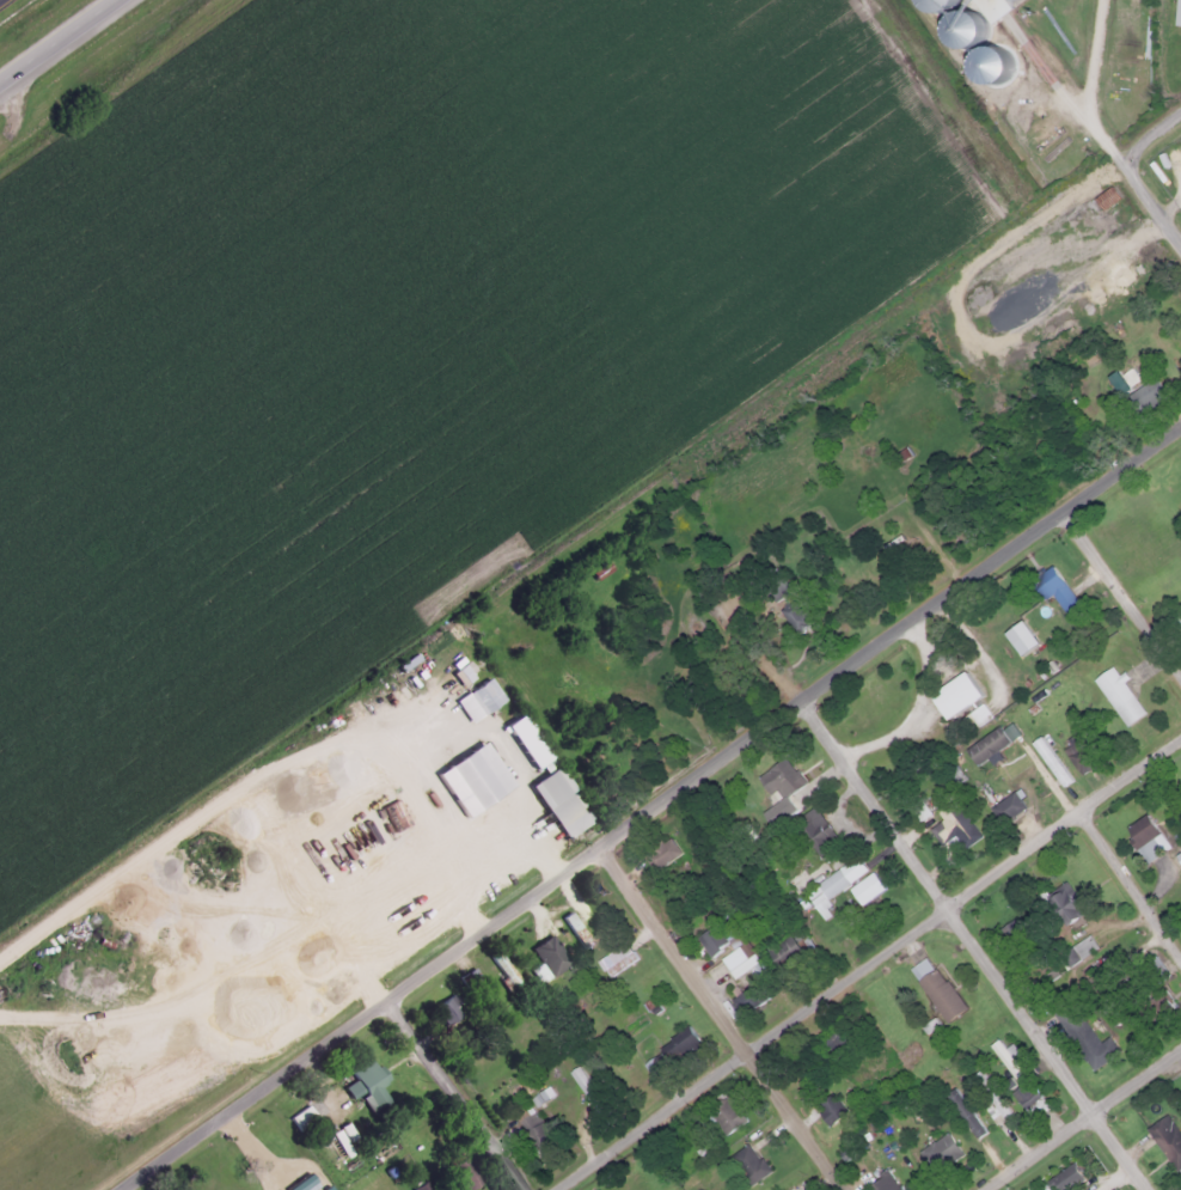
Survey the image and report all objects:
building: (991, 7)
building: (1176, 12)
road: (56, 41)
road: (1095, 121)
road: (1152, 133)
building: (1142, 396)
building: (1052, 586)
road: (1125, 586)
building: (794, 615)
building: (1177, 615)
building: (481, 694)
building: (953, 694)
building: (1116, 695)
building: (1073, 757)
building: (475, 773)
building: (778, 785)
building: (551, 801)
building: (1005, 807)
road: (648, 810)
building: (951, 824)
building: (815, 832)
building: (1144, 837)
building: (660, 853)
building: (850, 868)
road: (1132, 874)
building: (864, 886)
building: (679, 901)
building: (1060, 902)
building: (573, 929)
building: (1011, 934)
building: (709, 940)
road: (975, 945)
building: (787, 947)
building: (1076, 951)
building: (545, 954)
building: (614, 959)
building: (738, 959)
road: (868, 964)
building: (1154, 969)
building: (934, 988)
building: (445, 1007)
road: (721, 1018)
building: (1083, 1037)
building: (675, 1044)
building: (834, 1044)
building: (650, 1066)
building: (577, 1076)
building: (363, 1084)
road: (458, 1090)
building: (990, 1097)
building: (1028, 1099)
building: (827, 1109)
building: (305, 1112)
building: (724, 1113)
road: (1083, 1119)
building: (534, 1130)
building: (1164, 1140)
building: (937, 1152)
building: (746, 1164)
building: (461, 1172)
building: (1063, 1178)
building: (883, 1183)
building: (420, 1185)

